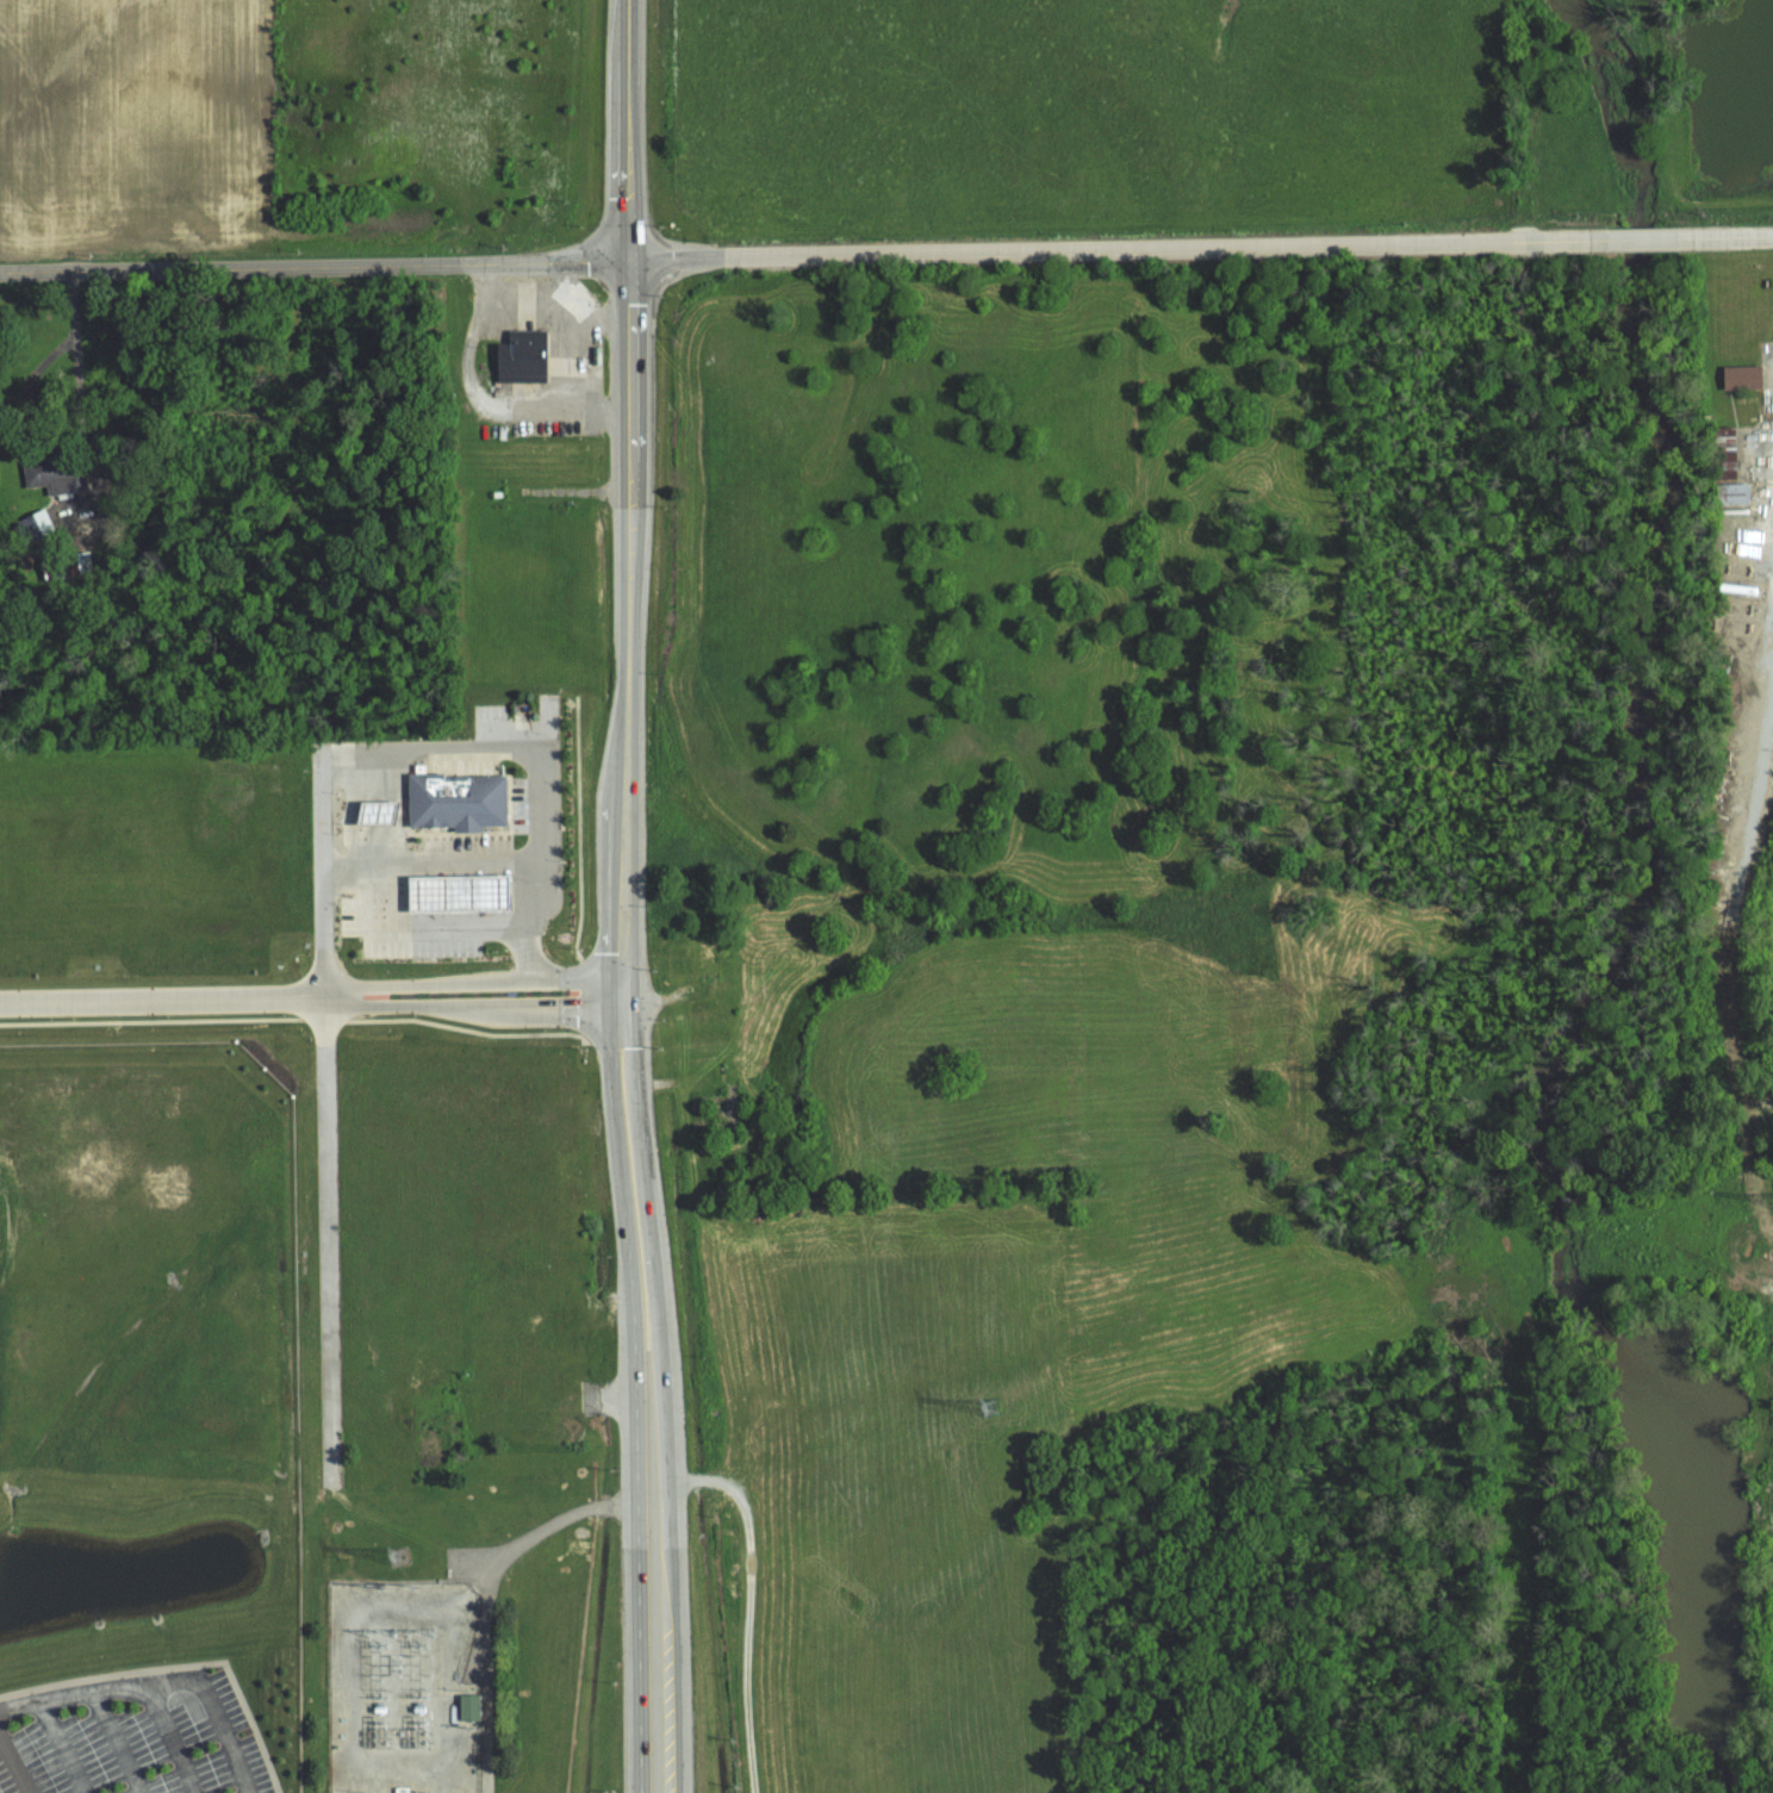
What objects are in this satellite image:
road: (628, 129)
road: (1731, 236)
road: (1600, 238)
road: (755, 256)
road: (566, 316)
road: (599, 317)
road: (79, 351)
building: (537, 351)
building: (1741, 376)
road: (483, 404)
building: (1724, 452)
building: (1730, 493)
road: (629, 718)
road: (520, 749)
building: (462, 797)
road: (458, 859)
building: (465, 891)
gas station: (465, 891)
road: (396, 924)
road: (523, 951)
road: (484, 979)
traffic signals: (630, 990)
road: (331, 992)
road: (162, 997)
road: (475, 1007)
road: (325, 1119)
power tower: (990, 1402)
road: (637, 1484)
road: (668, 1484)
power tower: (402, 1555)
road: (749, 1606)
power substation: (405, 1687)
road: (77, 1692)
road: (205, 1698)
building: (467, 1706)
parking lot: (94, 1738)
road: (116, 1741)
road: (176, 1744)
road: (63, 1745)
road: (15, 1761)

